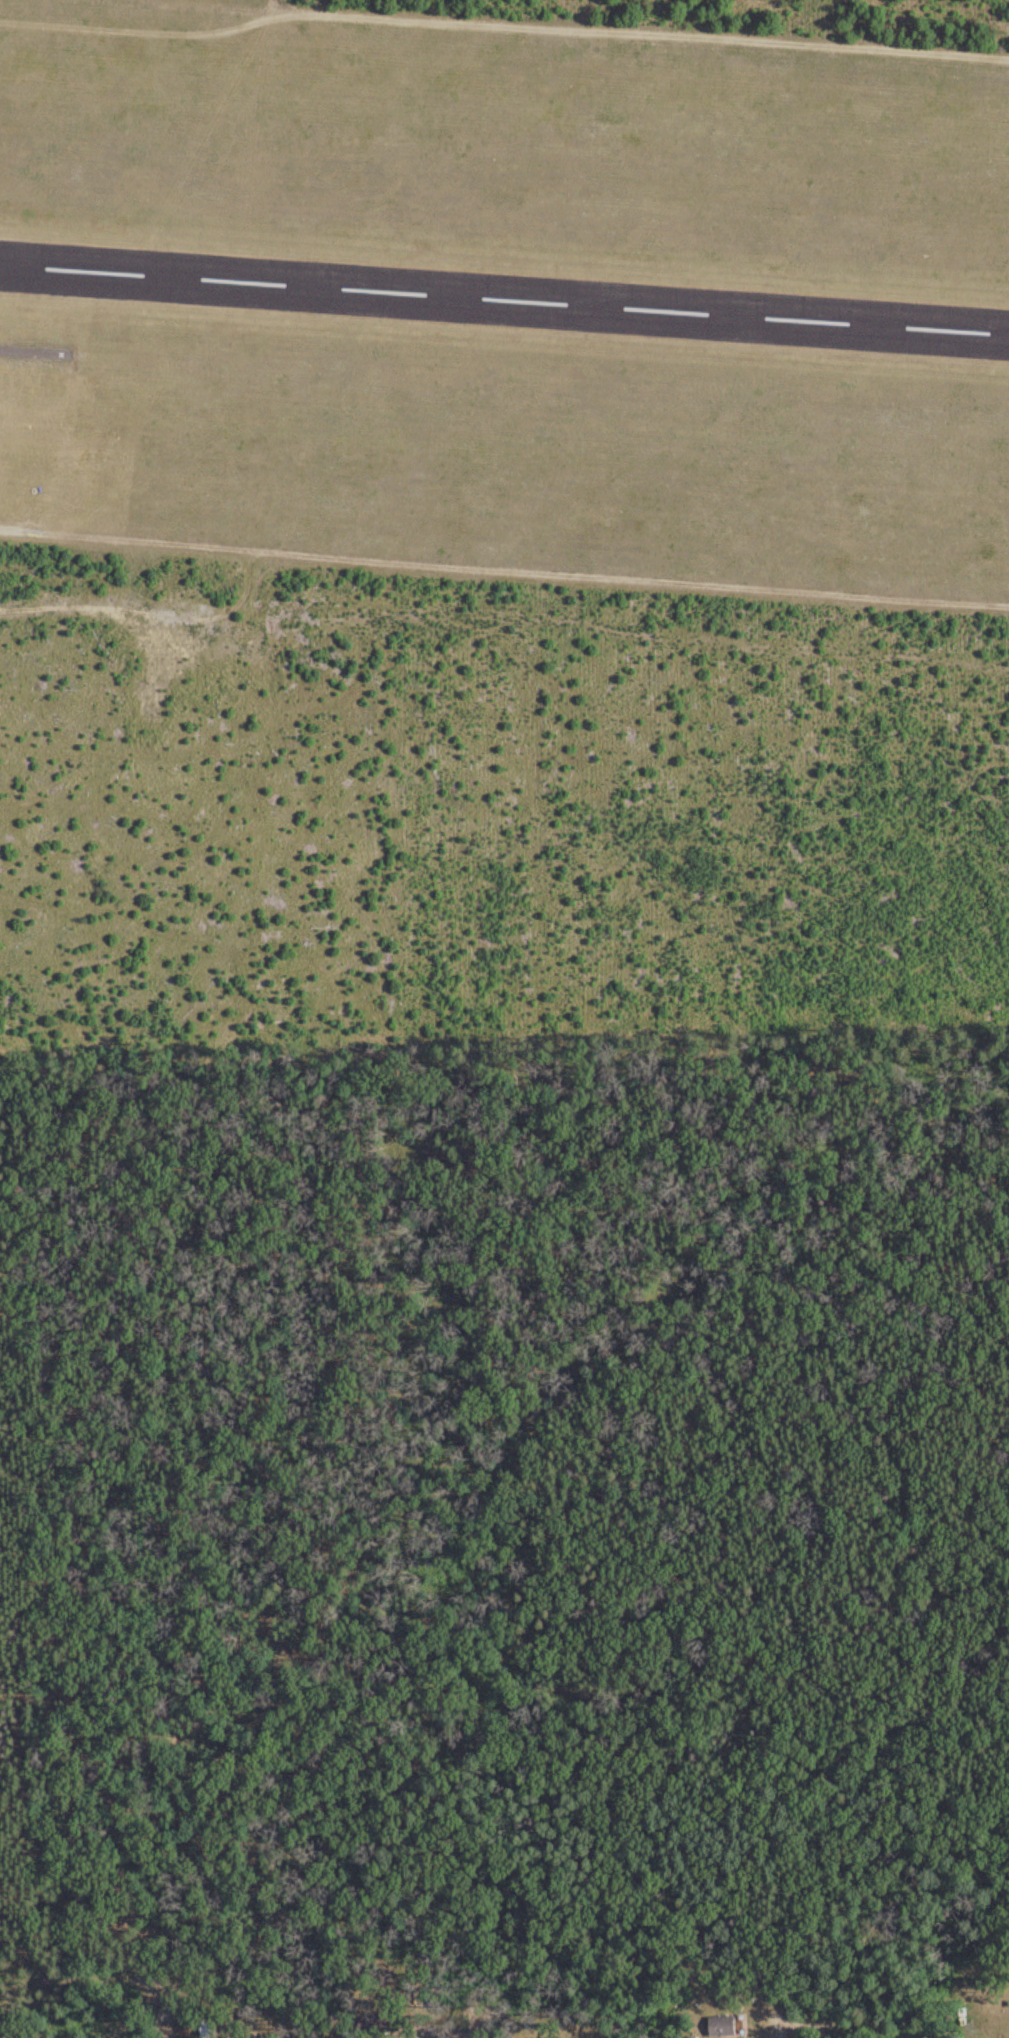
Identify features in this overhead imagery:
road: (1007, 0)
airport runway: (504, 298)
airport: (502, 304)
road: (389, 1262)
road: (65, 1957)
road: (136, 1997)
road: (673, 2017)

